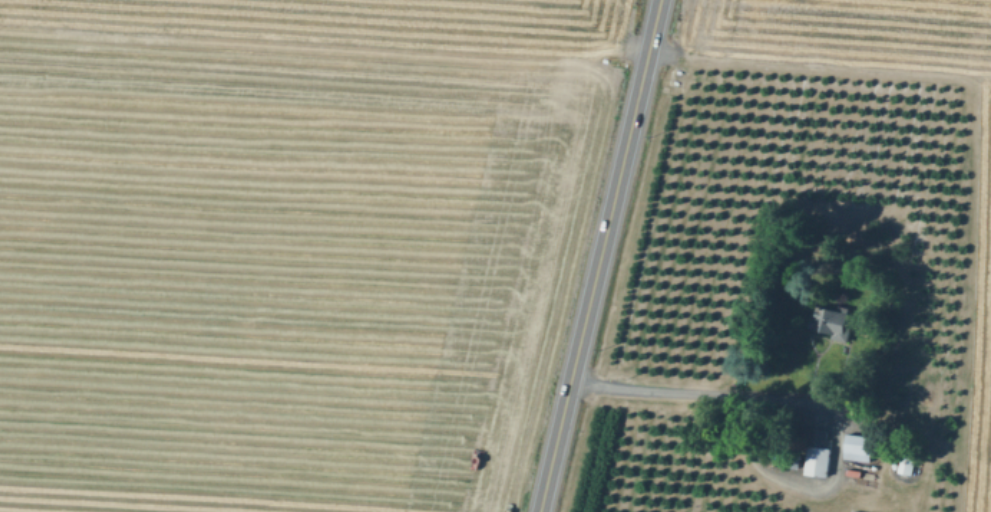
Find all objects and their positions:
crop: (360, 23)
road: (601, 255)
crop: (803, 269)
crop: (280, 271)
building: (838, 322)
road: (812, 403)
building: (858, 447)
building: (818, 453)
building: (906, 463)
building: (894, 466)
silo: (894, 466)
building: (856, 511)

